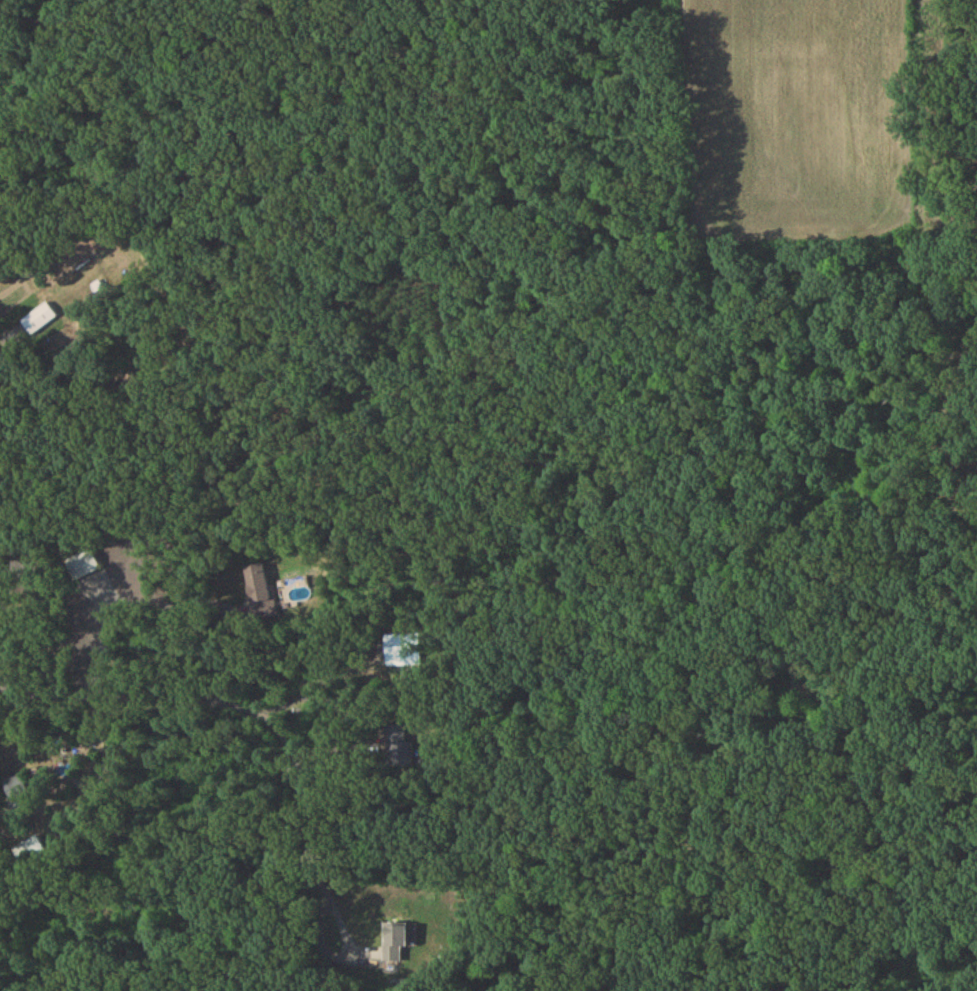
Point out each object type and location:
building: (39, 320)
road: (392, 449)
building: (84, 567)
building: (258, 593)
road: (165, 600)
building: (405, 653)
road: (233, 700)
road: (358, 716)
building: (402, 748)
building: (17, 791)
road: (16, 818)
building: (29, 852)
building: (395, 945)
road: (344, 956)

